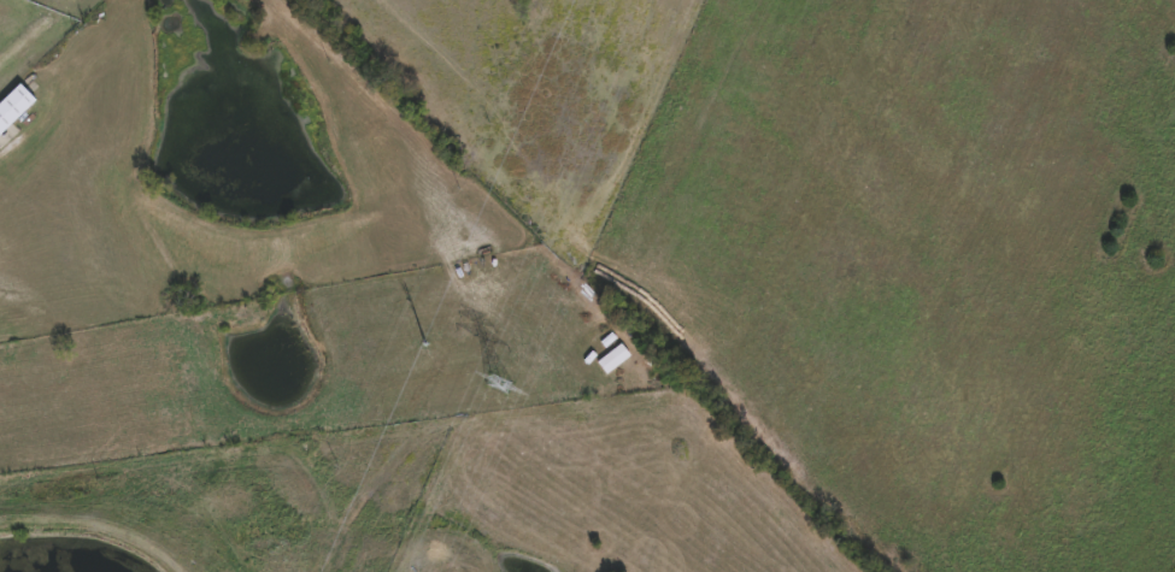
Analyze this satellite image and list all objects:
building: (14, 107)
power tower: (422, 353)
building: (615, 360)
power tower: (499, 382)

